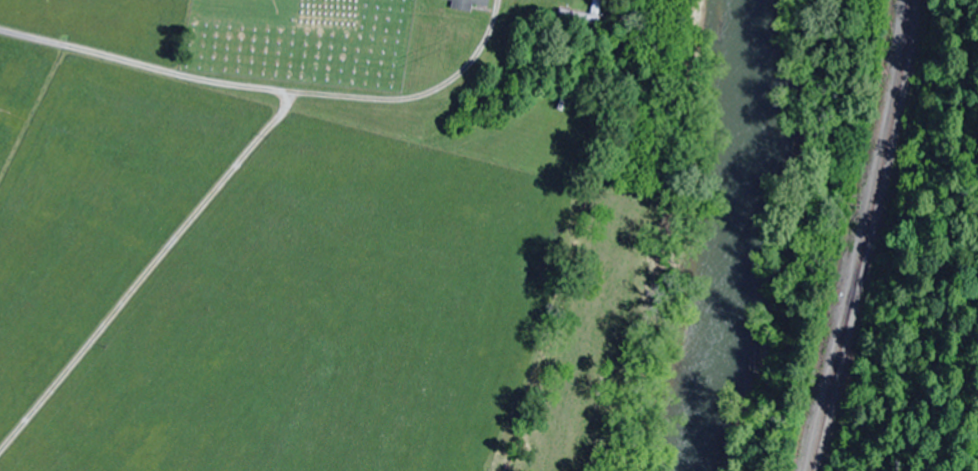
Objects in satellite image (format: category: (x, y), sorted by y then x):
building: (469, 5)
river: (715, 235)
railway: (864, 236)

